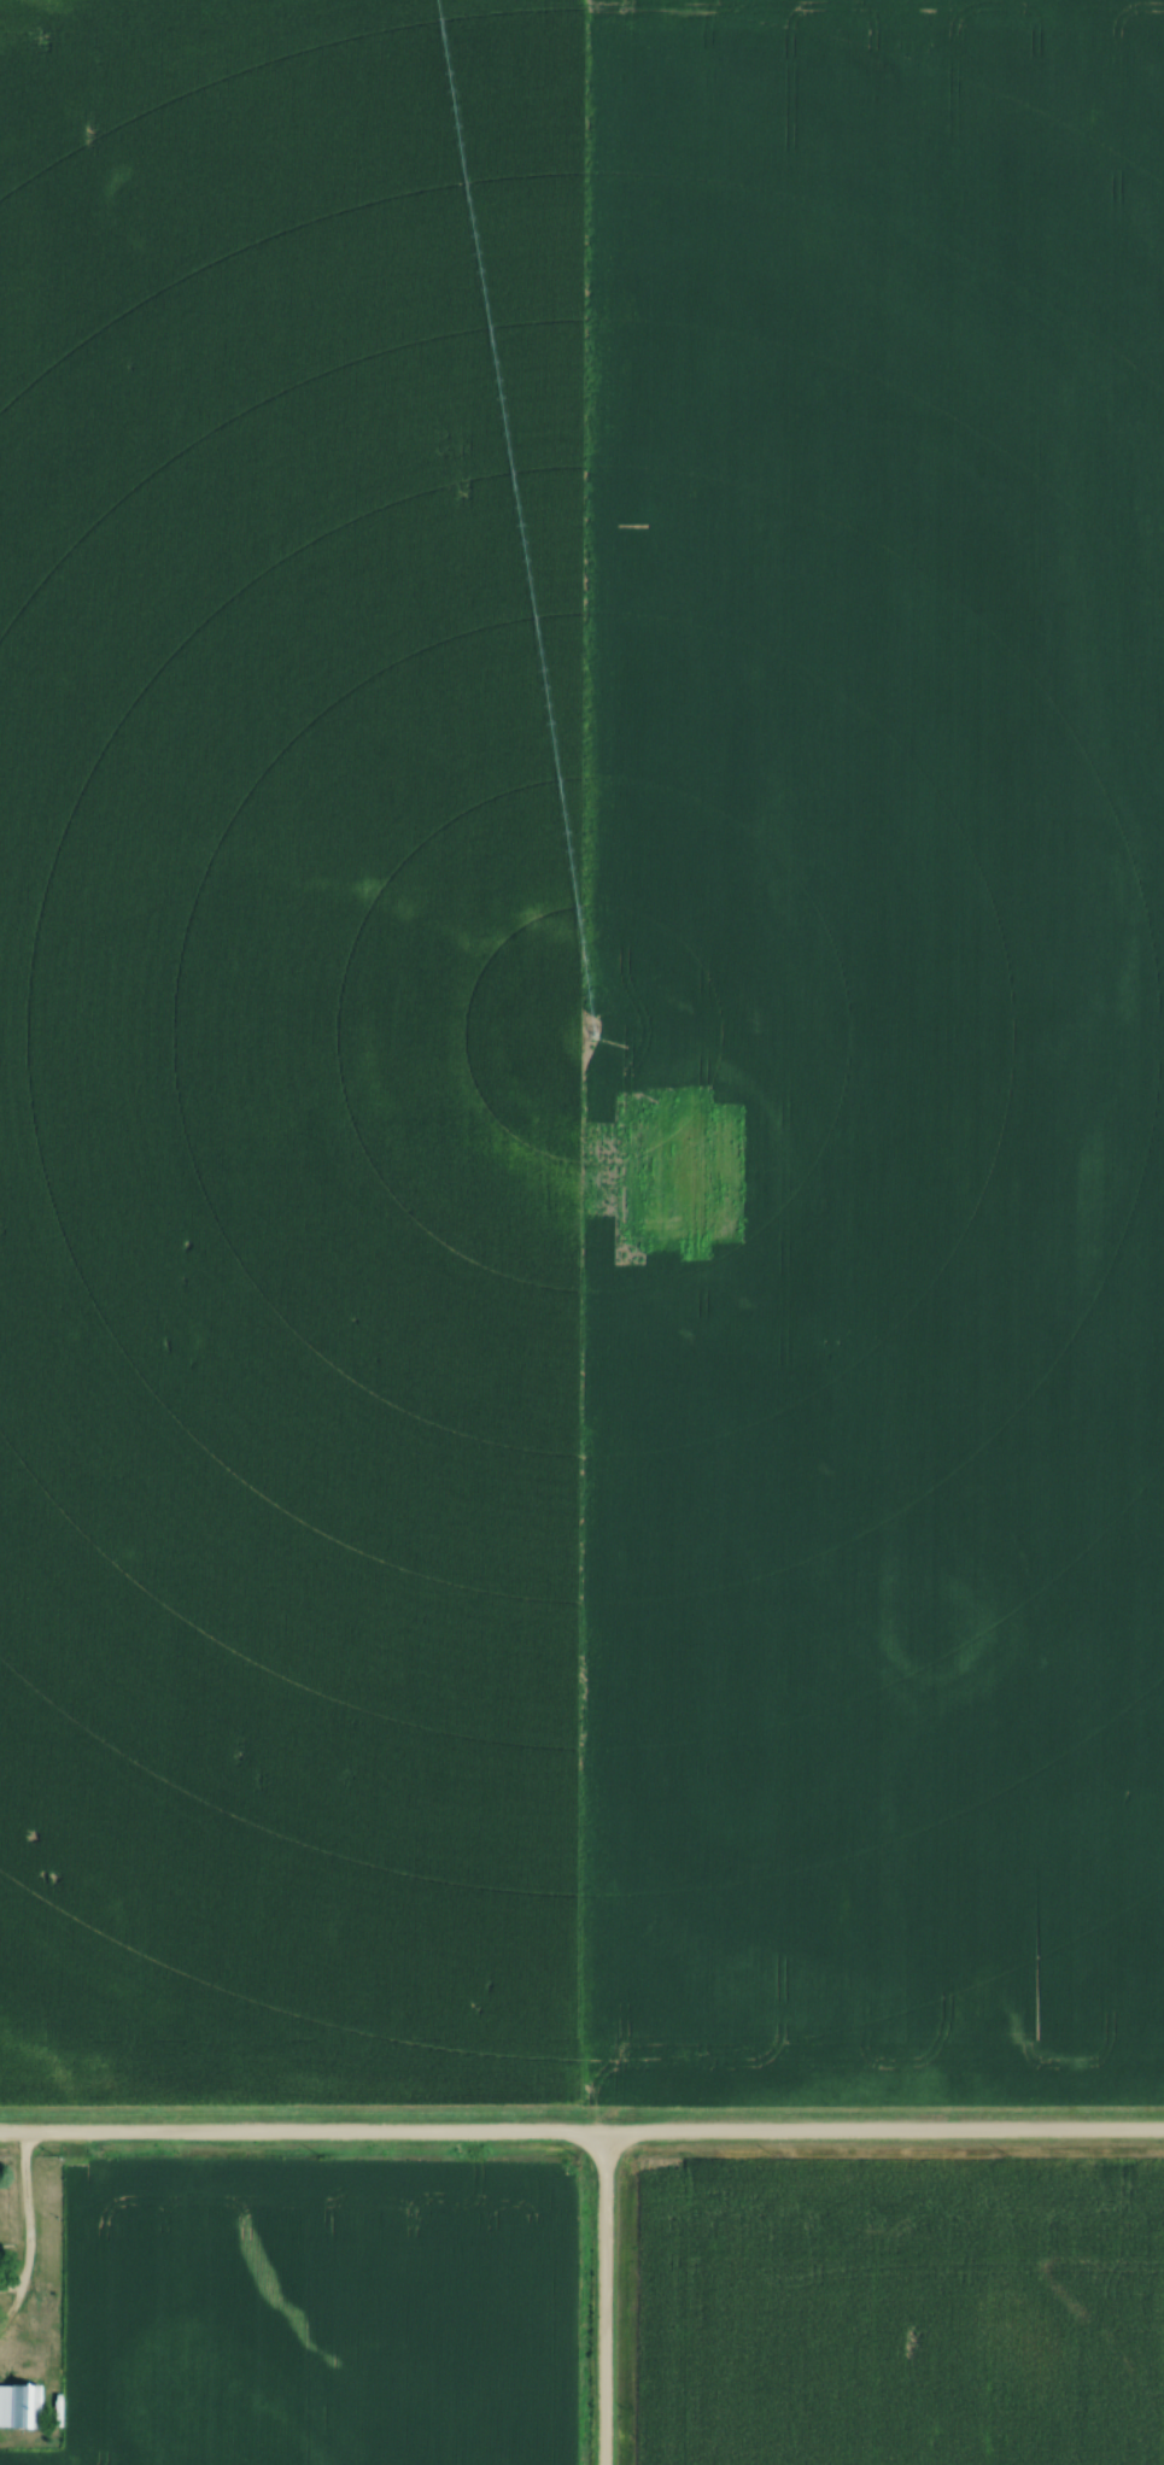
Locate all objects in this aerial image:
road: (581, 2138)
road: (28, 2214)
road: (18, 2295)
road: (603, 2301)
building: (21, 2405)

